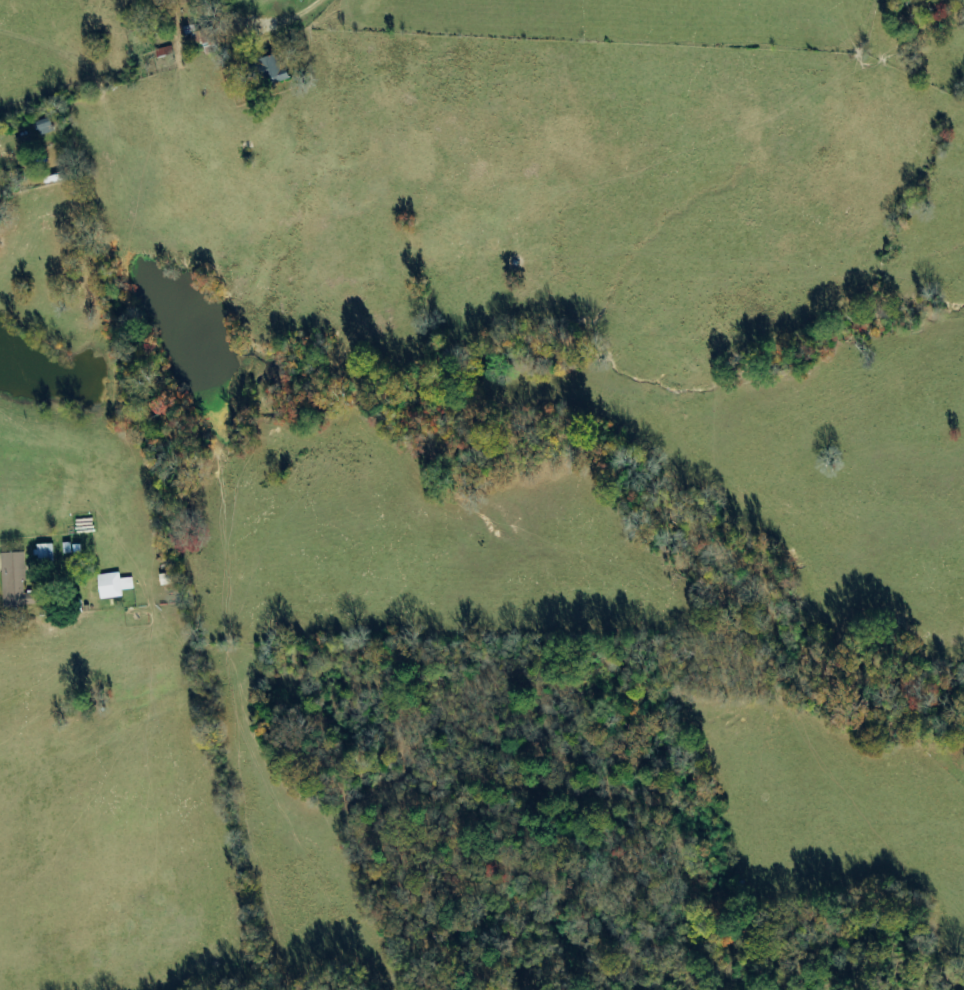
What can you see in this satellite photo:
road: (330, 14)
building: (165, 51)
building: (275, 70)
building: (47, 552)
building: (115, 585)

